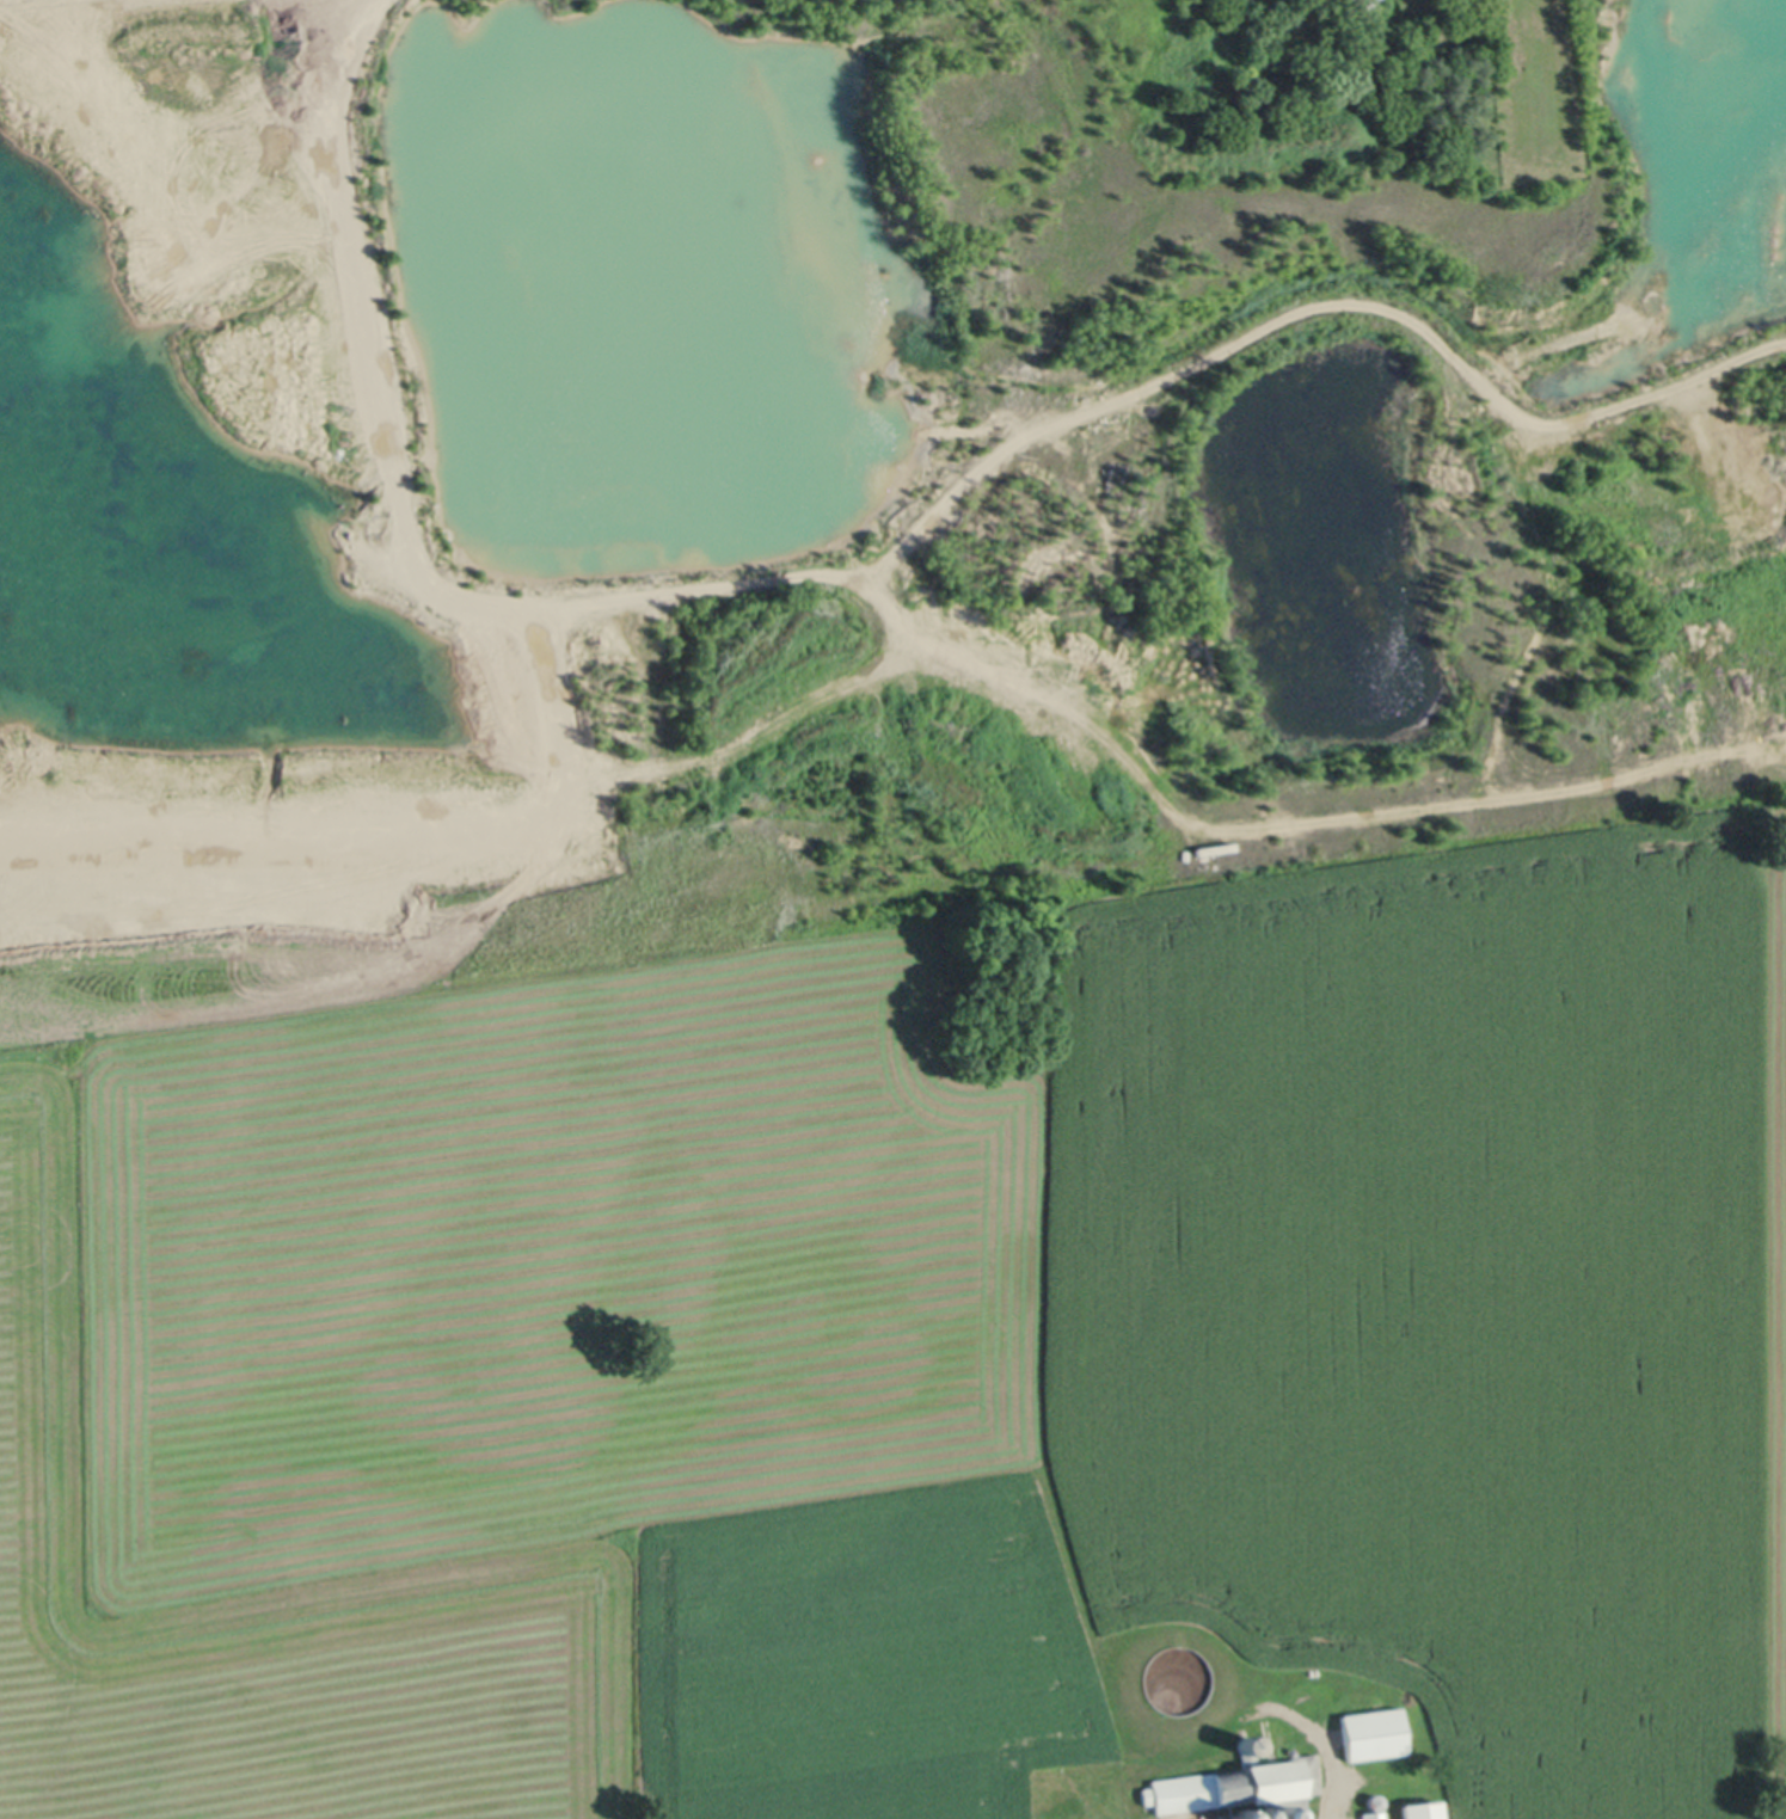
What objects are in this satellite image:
building: (1370, 4)
quarry: (888, 437)
building: (1376, 1732)
building: (1248, 1744)
building: (1239, 1787)
building: (1377, 1800)
building: (1423, 1809)
building: (1240, 1813)
building: (1375, 1814)
building: (1260, 1815)

